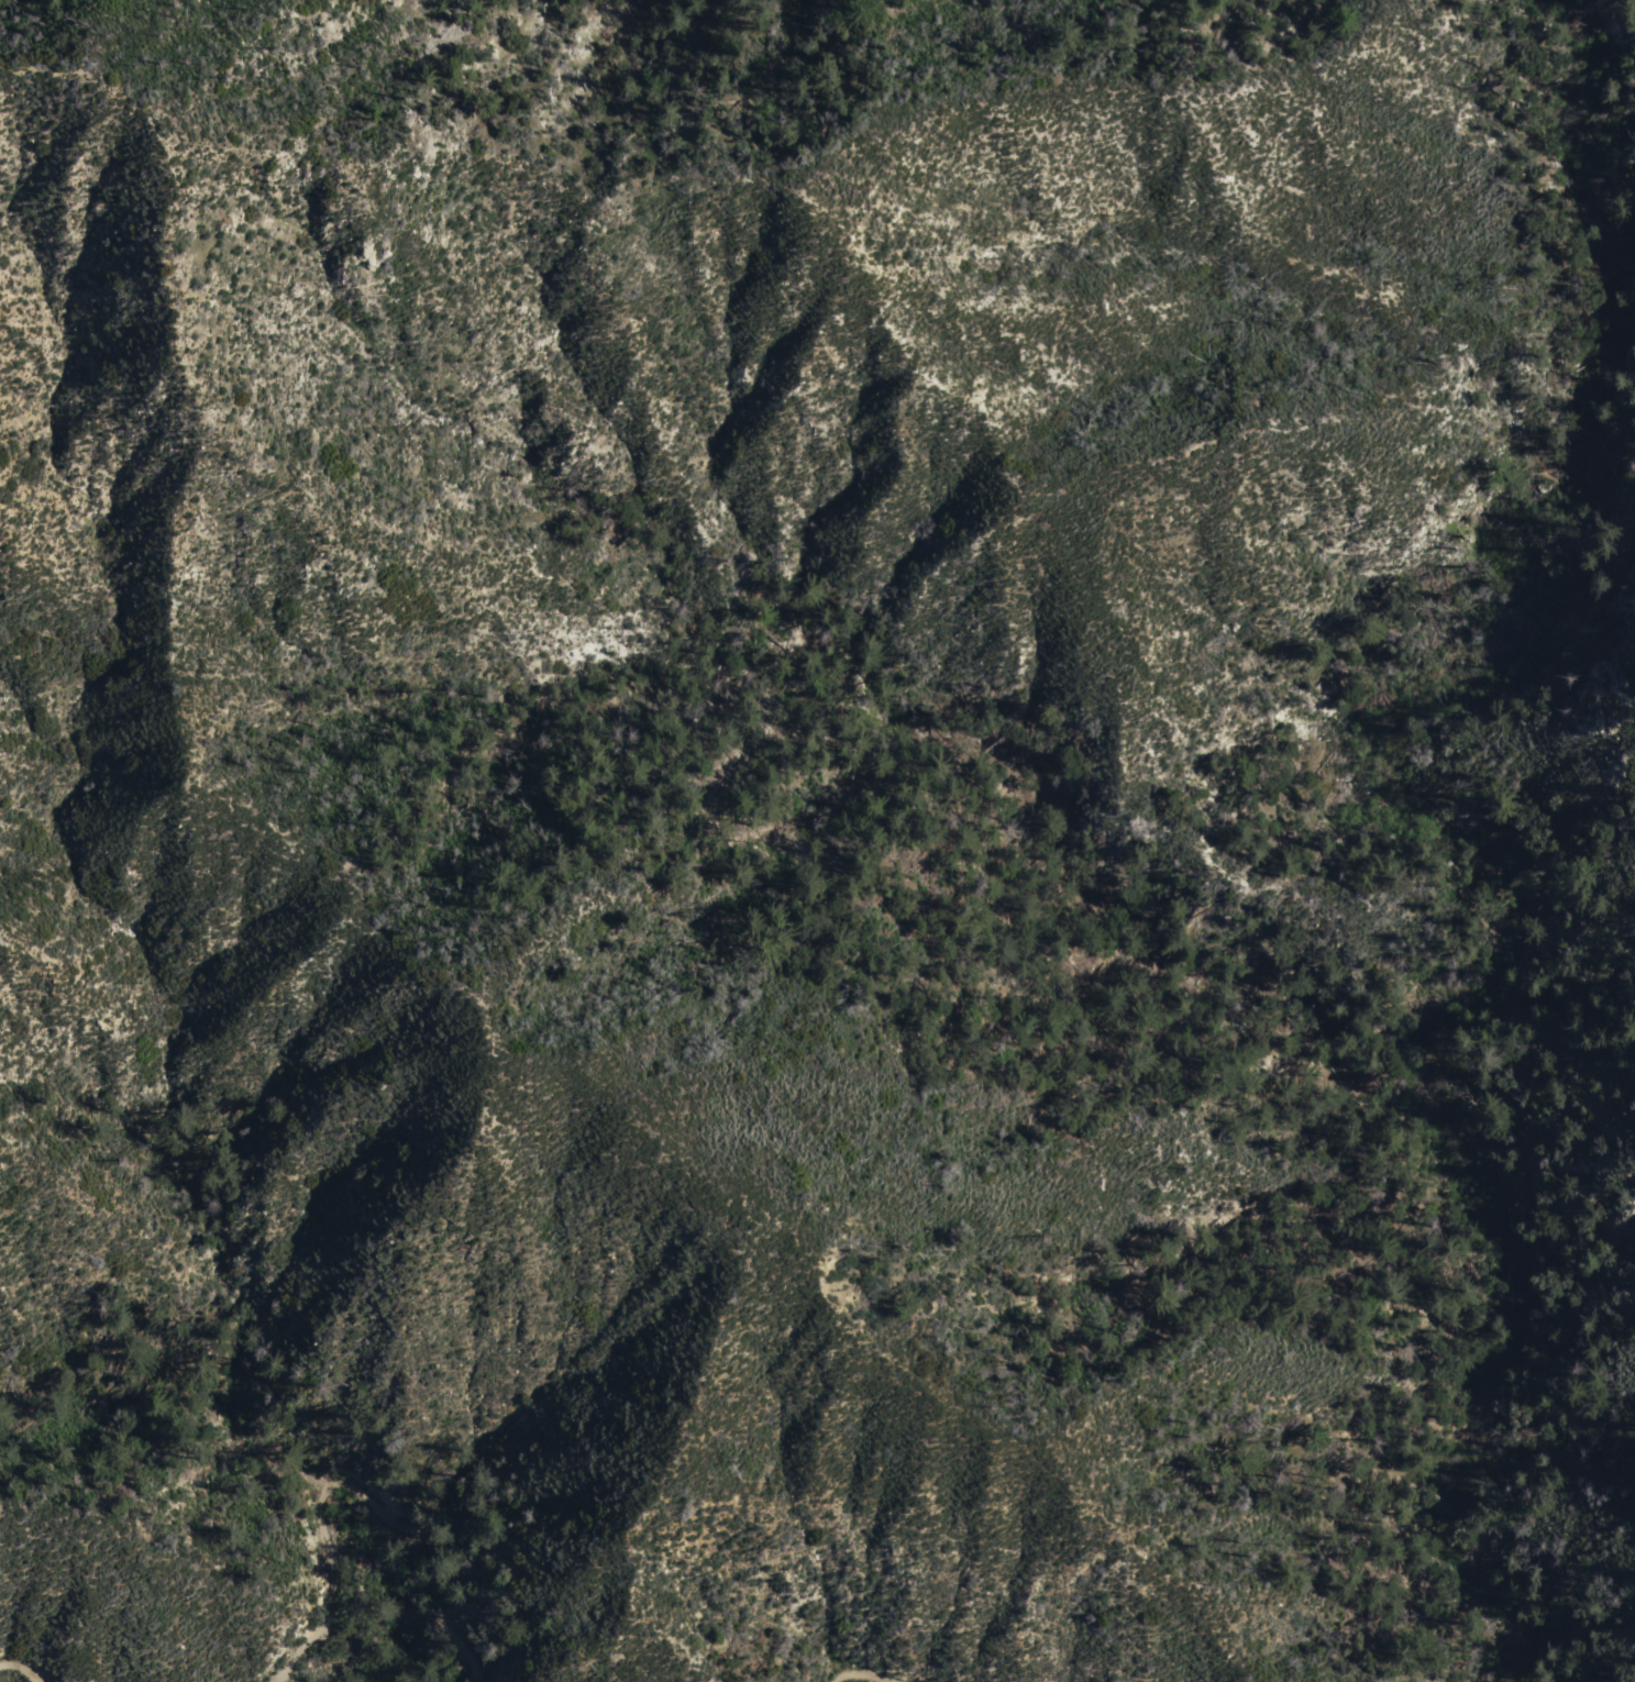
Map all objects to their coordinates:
road: (350, 1487)
road: (19, 1671)
road: (872, 1678)

